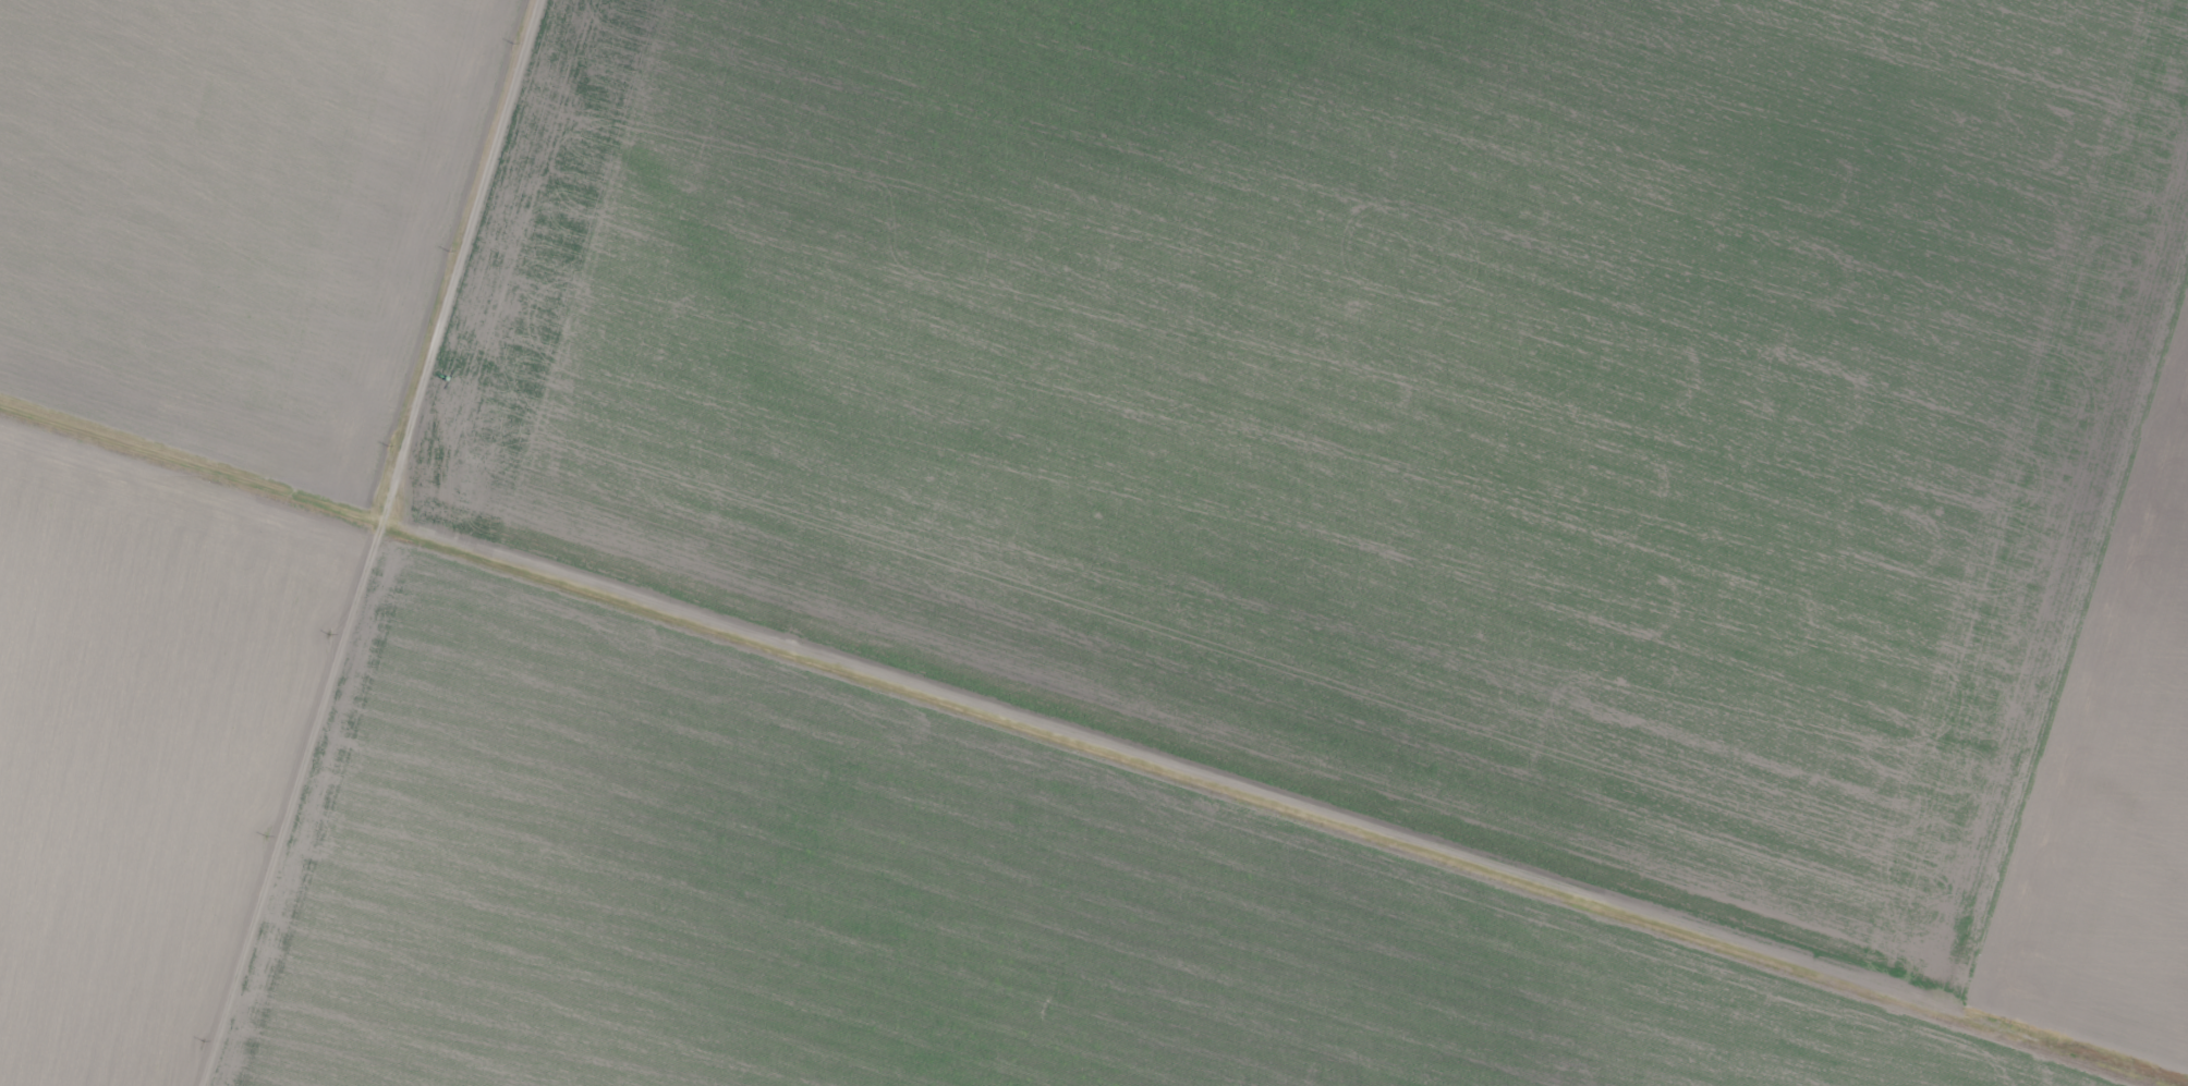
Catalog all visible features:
road: (386, 546)
road: (1071, 737)

